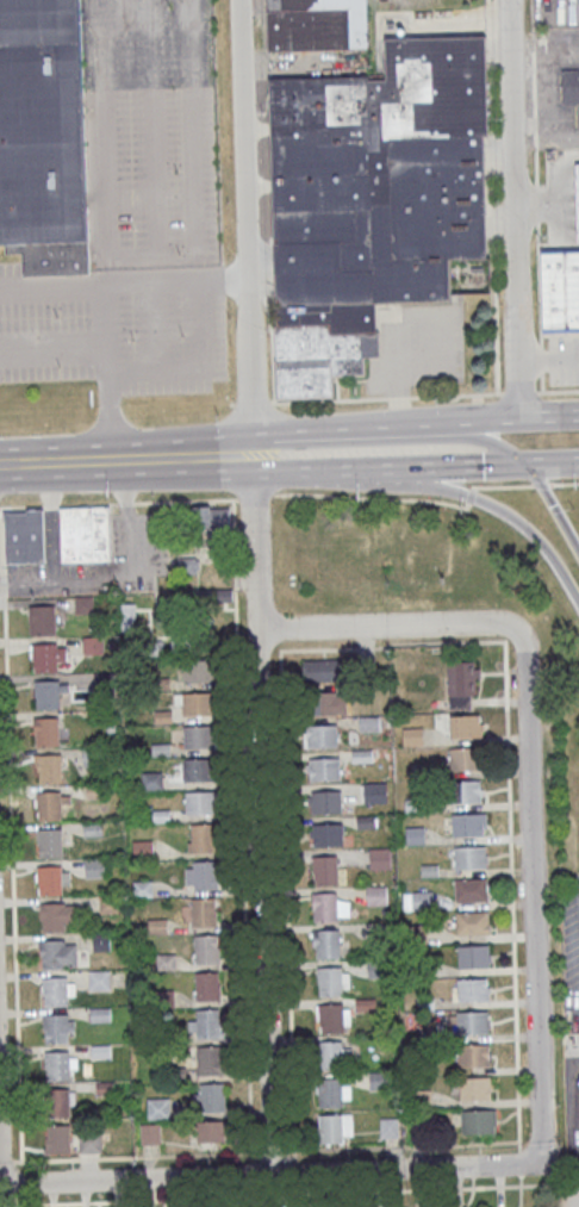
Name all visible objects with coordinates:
building: (316, 23)
building: (571, 83)
street lamp: (173, 87)
road: (261, 88)
road: (533, 93)
parking lot: (161, 124)
road: (107, 127)
road: (155, 129)
road: (188, 130)
building: (43, 135)
street lamp: (176, 170)
road: (263, 185)
building: (577, 191)
building: (372, 195)
road: (577, 203)
road: (536, 204)
road: (543, 205)
road: (512, 209)
road: (263, 217)
road: (247, 226)
street lamp: (180, 253)
road: (154, 257)
road: (264, 269)
road: (114, 272)
road: (538, 284)
road: (157, 285)
building: (560, 288)
road: (57, 290)
street lamp: (55, 316)
road: (156, 328)
parking lot: (112, 334)
street lamp: (182, 334)
road: (105, 336)
street lamp: (133, 340)
road: (272, 349)
road: (203, 350)
road: (52, 355)
road: (564, 357)
road: (533, 359)
road: (541, 360)
parking lot: (564, 360)
street lamp: (58, 365)
road: (398, 378)
road: (541, 382)
flagpole: (344, 384)
flagpole: (363, 384)
road: (558, 391)
street lamp: (437, 392)
road: (518, 393)
flagpole: (344, 396)
road: (397, 397)
road: (455, 397)
road: (475, 397)
road: (329, 400)
road: (251, 403)
road: (232, 404)
road: (477, 410)
street lamp: (219, 416)
road: (549, 416)
road: (110, 422)
road: (466, 422)
road: (349, 442)
road: (236, 454)
road: (270, 454)
road: (168, 458)
road: (85, 461)
road: (322, 462)
road: (25, 465)
road: (554, 467)
traffic signals: (529, 468)
road: (443, 469)
street lamp: (577, 486)
road: (431, 487)
road: (254, 496)
street lamp: (110, 497)
street lamp: (360, 499)
road: (118, 503)
building: (212, 517)
road: (51, 521)
building: (83, 533)
building: (25, 543)
building: (194, 558)
road: (118, 570)
building: (127, 616)
building: (43, 620)
road: (397, 641)
building: (93, 645)
building: (44, 658)
building: (325, 668)
building: (199, 671)
building: (462, 684)
building: (46, 695)
building: (325, 702)
building: (194, 703)
building: (467, 726)
building: (46, 730)
building: (322, 735)
building: (198, 736)
building: (412, 736)
building: (362, 755)
building: (465, 758)
building: (50, 767)
building: (324, 769)
road: (530, 769)
building: (198, 770)
building: (151, 780)
building: (465, 791)
building: (374, 792)
building: (325, 801)
building: (200, 802)
building: (49, 805)
road: (260, 814)
building: (467, 825)
road: (242, 826)
road: (12, 833)
building: (326, 833)
building: (201, 838)
building: (51, 844)
building: (141, 848)
building: (469, 857)
building: (379, 858)
building: (94, 866)
building: (325, 869)
building: (200, 875)
building: (51, 879)
building: (471, 890)
building: (376, 895)
building: (423, 900)
building: (108, 903)
building: (324, 906)
building: (204, 912)
building: (51, 916)
building: (472, 922)
building: (101, 941)
building: (328, 942)
building: (206, 948)
building: (52, 953)
parking lot: (571, 953)
building: (473, 956)
building: (99, 979)
building: (329, 981)
building: (206, 985)
building: (473, 989)
building: (56, 991)
building: (100, 1014)
building: (331, 1016)
building: (472, 1021)
building: (204, 1022)
building: (57, 1028)
building: (330, 1053)
building: (473, 1054)
building: (210, 1059)
building: (57, 1065)
building: (378, 1081)
building: (475, 1088)
building: (329, 1091)
building: (208, 1097)
building: (57, 1103)
road: (573, 1103)
building: (158, 1108)
building: (477, 1120)
building: (330, 1127)
building: (388, 1127)
building: (150, 1134)
building: (211, 1134)
building: (58, 1139)
building: (89, 1143)
road: (400, 1145)
road: (272, 1151)
road: (130, 1156)
road: (518, 1158)
road: (264, 1175)
road: (289, 1193)
power substation: (567, 1196)

